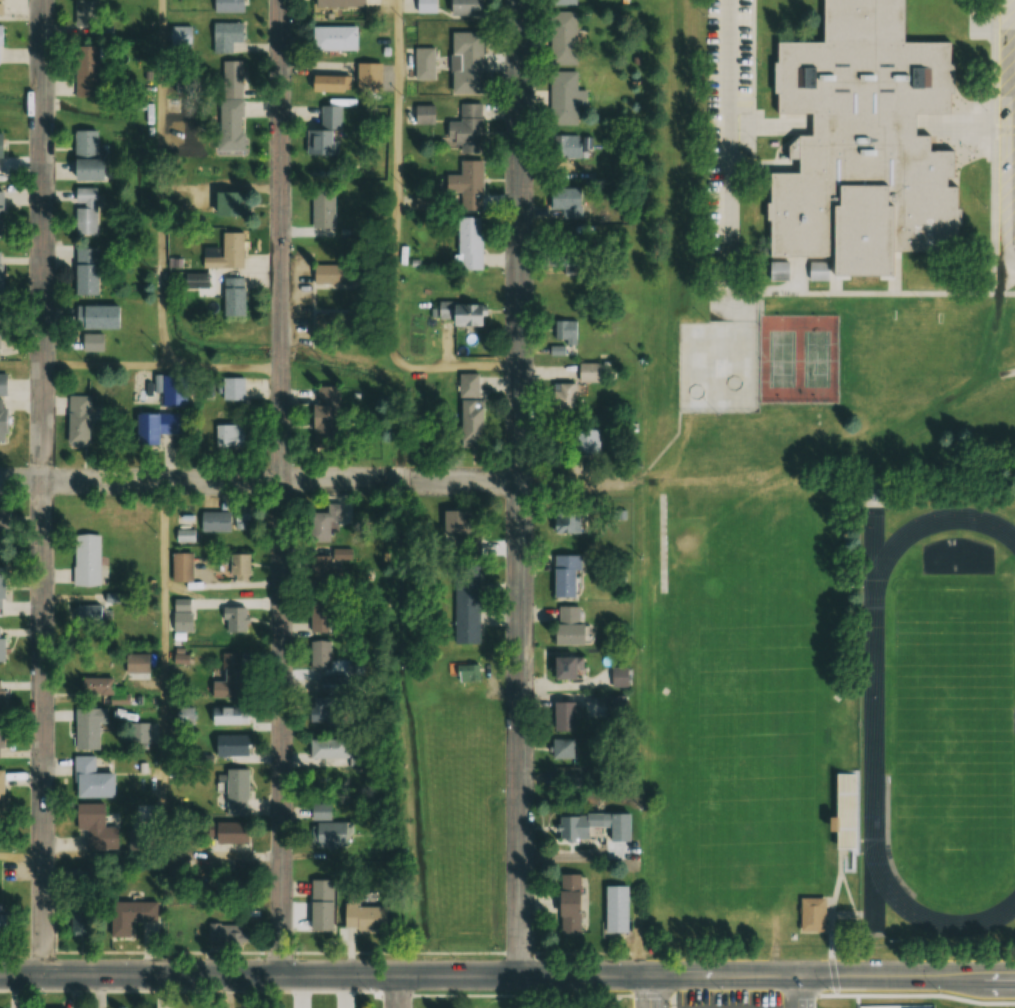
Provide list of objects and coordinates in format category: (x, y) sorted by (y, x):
building: (562, 2)
building: (338, 3)
building: (228, 6)
building: (422, 6)
building: (462, 7)
building: (1, 8)
building: (86, 17)
building: (225, 36)
building: (562, 37)
building: (333, 38)
building: (466, 61)
building: (423, 63)
building: (85, 71)
building: (368, 76)
building: (329, 83)
building: (565, 97)
building: (230, 105)
building: (420, 114)
building: (466, 128)
building: (325, 132)
road: (725, 140)
building: (860, 140)
building: (1, 145)
building: (567, 145)
building: (85, 155)
road: (162, 184)
building: (466, 184)
building: (563, 199)
building: (230, 204)
building: (322, 206)
building: (84, 212)
building: (1, 214)
road: (395, 242)
building: (468, 243)
building: (227, 252)
building: (567, 255)
building: (777, 270)
building: (85, 271)
building: (0, 274)
building: (334, 274)
building: (196, 280)
building: (233, 297)
building: (460, 313)
building: (95, 317)
building: (330, 322)
building: (0, 328)
building: (565, 330)
building: (92, 342)
park: (799, 357)
park: (721, 366)
road: (102, 367)
road: (222, 368)
building: (588, 372)
building: (2, 385)
building: (175, 385)
building: (233, 388)
building: (564, 394)
building: (324, 418)
building: (2, 420)
building: (78, 420)
building: (472, 422)
building: (153, 427)
building: (227, 437)
building: (586, 441)
road: (315, 480)
road: (282, 487)
road: (520, 487)
road: (42, 488)
building: (874, 489)
building: (5, 518)
building: (241, 518)
building: (214, 521)
building: (324, 521)
building: (566, 522)
building: (185, 535)
building: (470, 542)
building: (86, 559)
building: (237, 566)
building: (181, 567)
building: (322, 570)
building: (565, 575)
building: (1, 587)
building: (467, 606)
building: (181, 614)
building: (87, 615)
building: (233, 619)
building: (567, 625)
building: (1, 644)
building: (320, 655)
building: (136, 662)
building: (566, 667)
building: (619, 676)
building: (229, 678)
building: (102, 689)
building: (325, 695)
building: (1, 698)
building: (228, 716)
building: (563, 716)
park: (954, 718)
track: (870, 720)
building: (88, 727)
road: (164, 728)
building: (1, 739)
building: (230, 745)
building: (327, 747)
building: (562, 748)
building: (92, 779)
building: (236, 792)
building: (1, 794)
building: (843, 812)
building: (572, 826)
building: (96, 827)
building: (326, 827)
building: (622, 831)
building: (226, 832)
road: (21, 854)
building: (568, 903)
building: (321, 905)
building: (616, 910)
building: (361, 913)
building: (811, 913)
building: (130, 915)
building: (1, 921)
building: (228, 935)
road: (507, 975)
road: (399, 991)
road: (652, 991)
road: (851, 992)
park: (526, 1002)
street lamp: (670, 1005)

